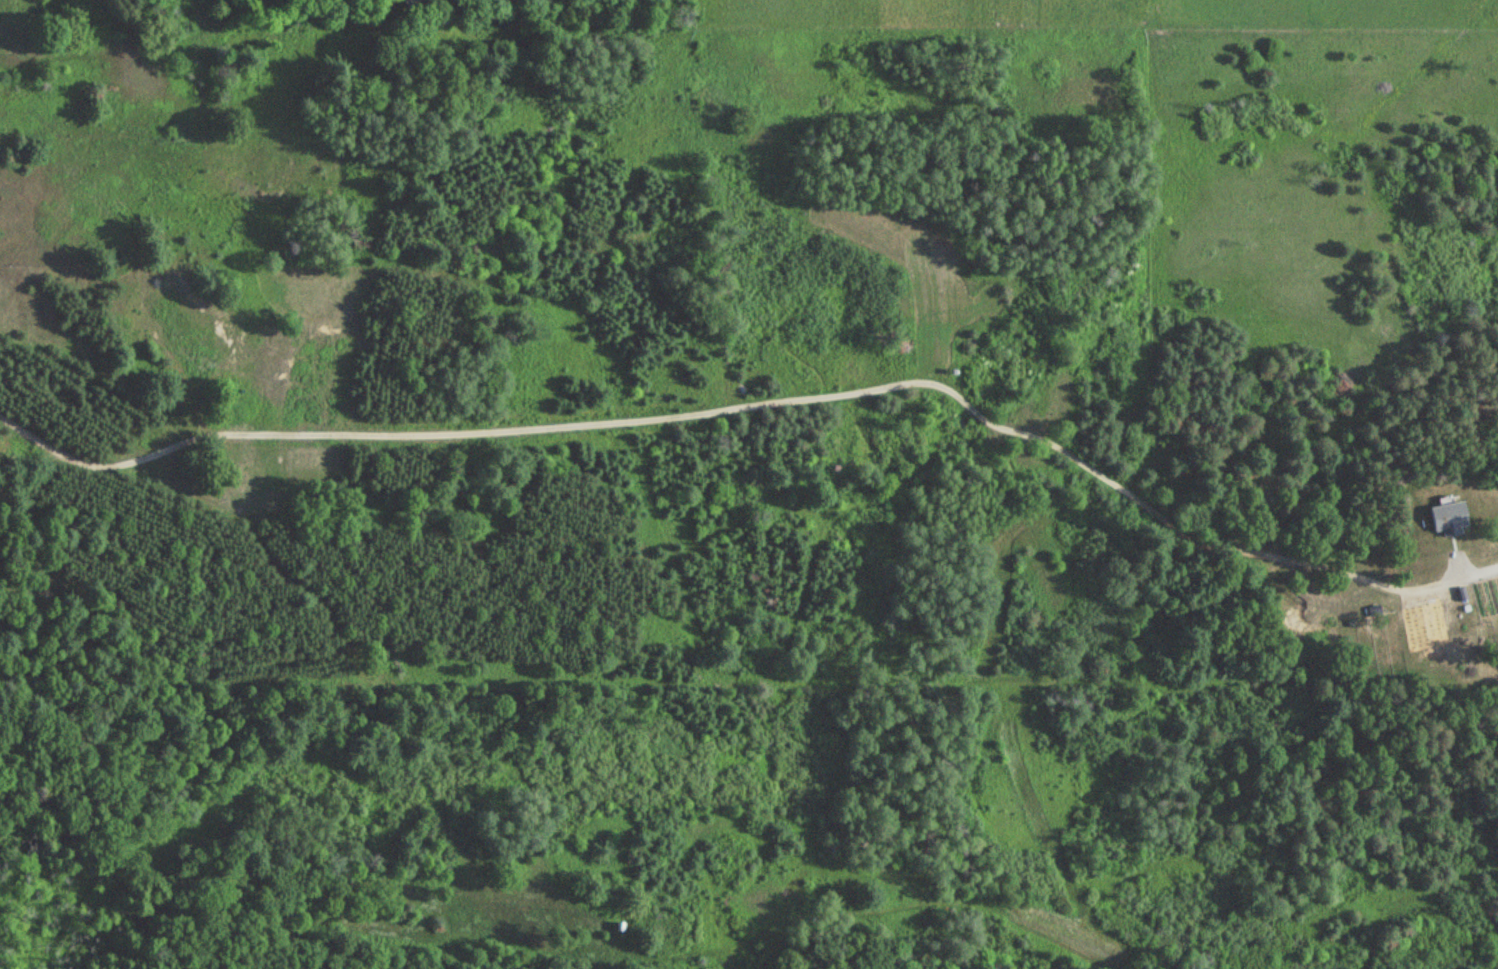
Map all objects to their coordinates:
road: (733, 409)
road: (1465, 579)

